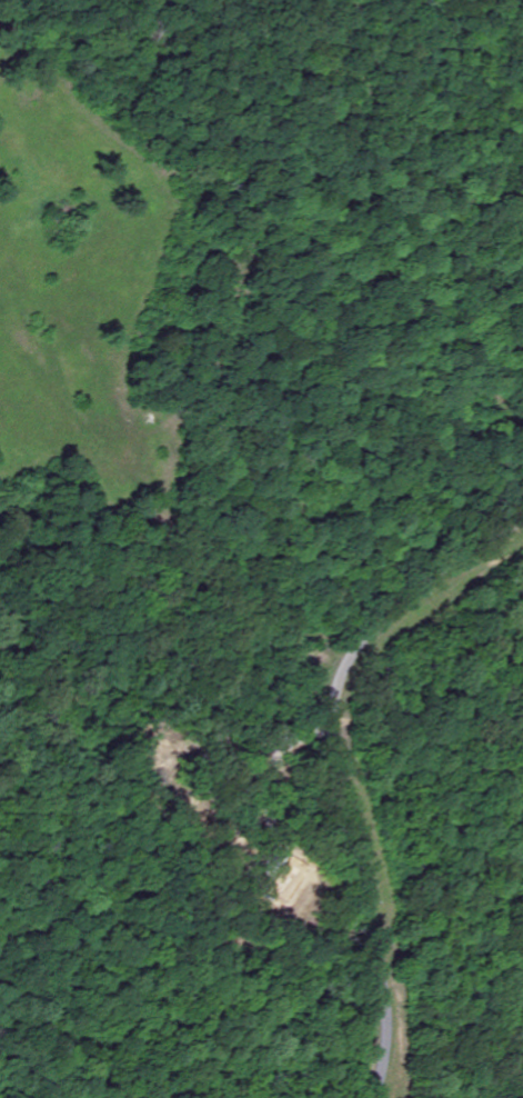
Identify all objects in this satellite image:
road: (334, 770)

